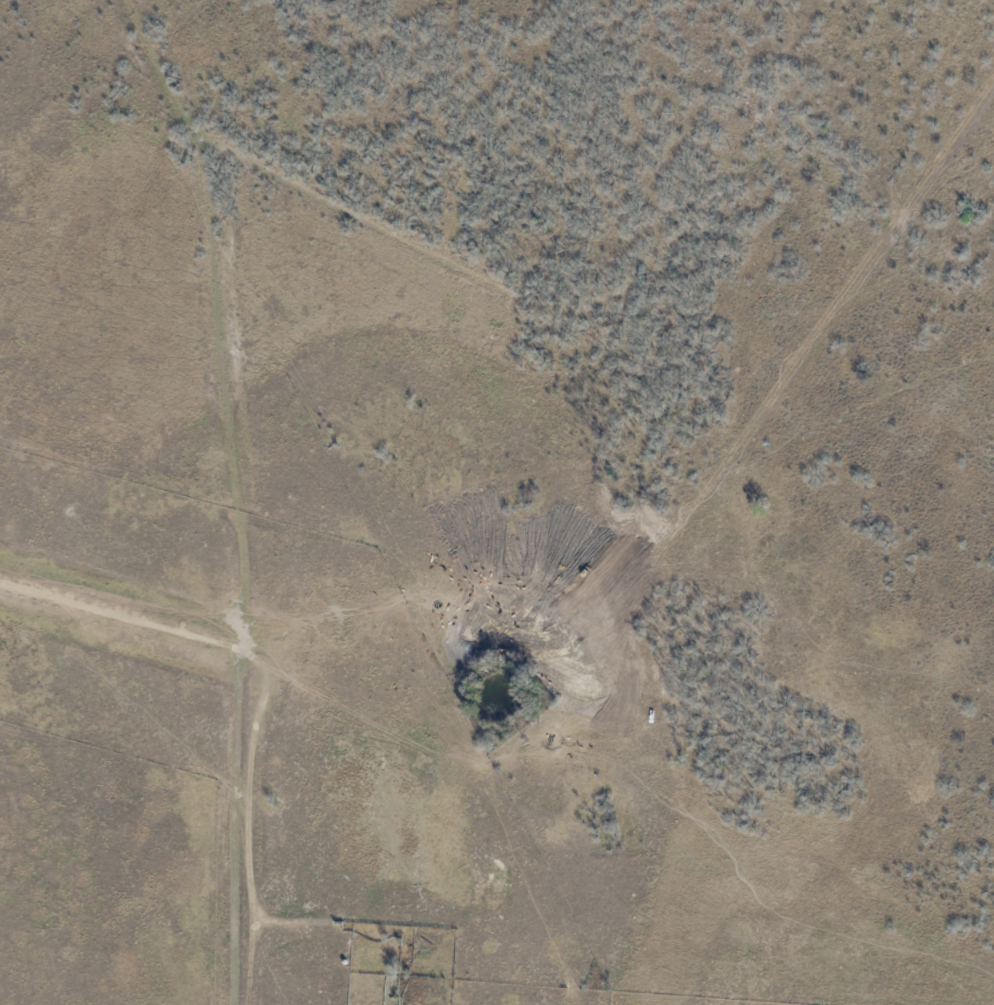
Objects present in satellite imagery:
road: (263, 698)

